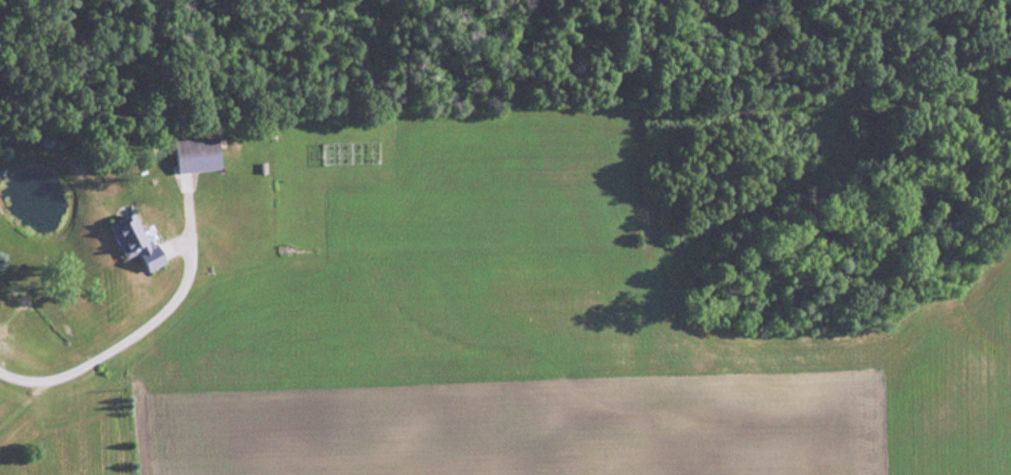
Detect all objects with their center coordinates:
building: (198, 154)
building: (132, 237)
road: (119, 331)

